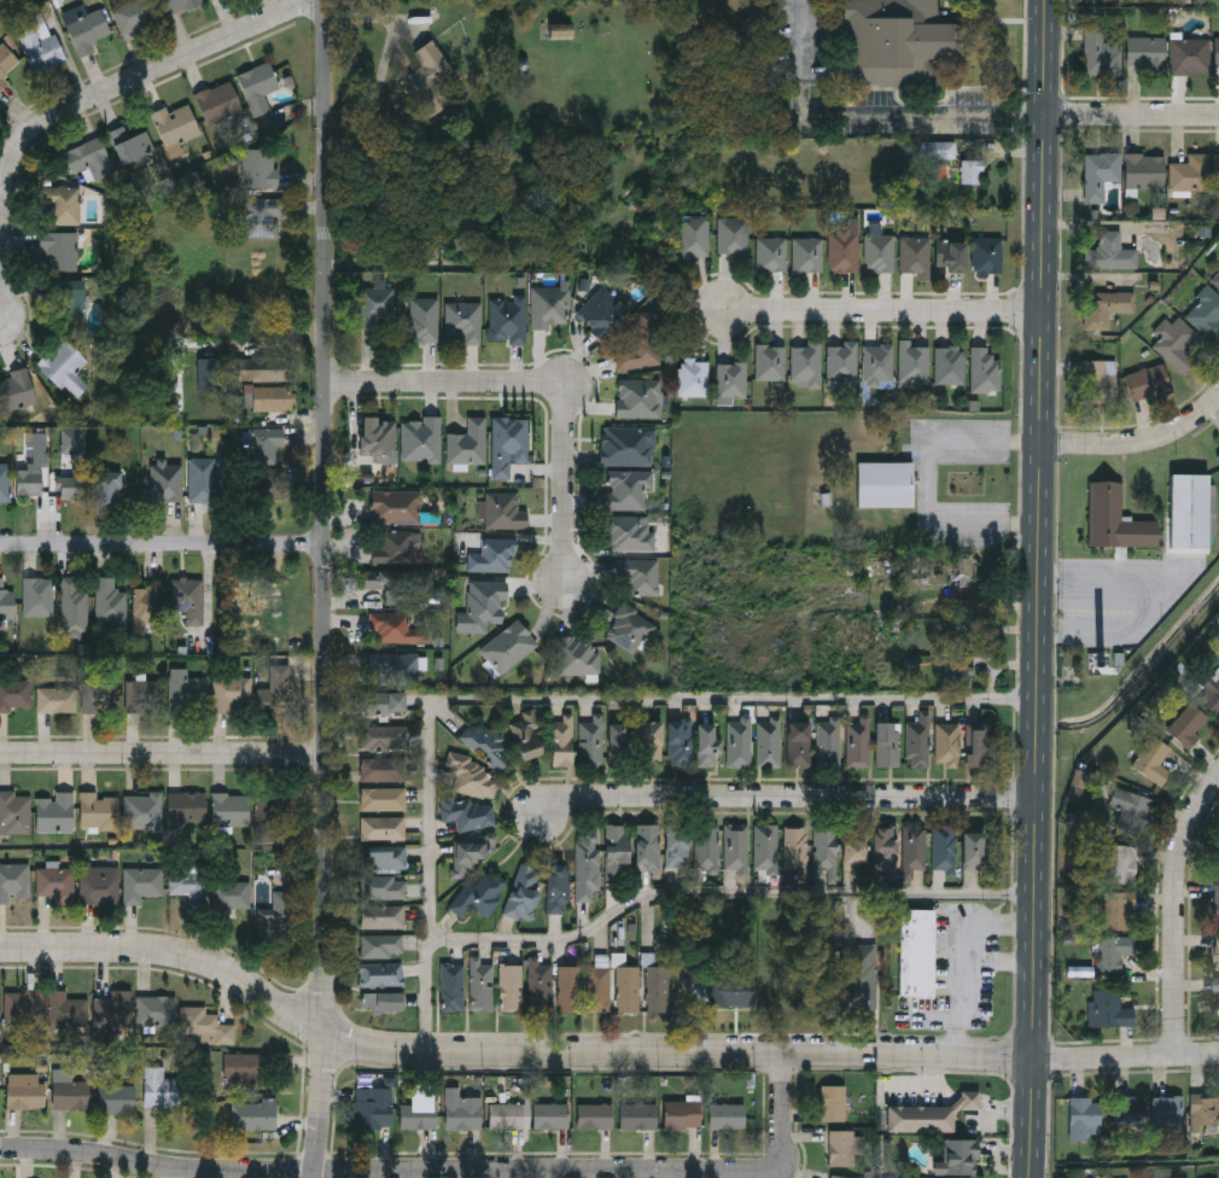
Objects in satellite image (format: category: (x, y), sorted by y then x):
building: (212, 0)
building: (177, 5)
building: (135, 14)
building: (560, 29)
building: (88, 30)
building: (899, 42)
building: (42, 46)
building: (1215, 52)
building: (1147, 53)
building: (1100, 54)
building: (1189, 56)
building: (6, 64)
building: (427, 70)
building: (258, 87)
building: (218, 103)
road: (80, 104)
road: (869, 113)
road: (1133, 115)
building: (176, 124)
building: (130, 144)
building: (91, 158)
building: (261, 168)
building: (1144, 169)
building: (1215, 169)
building: (1100, 173)
building: (1190, 173)
building: (63, 205)
building: (263, 216)
building: (694, 237)
building: (733, 237)
building: (60, 251)
building: (844, 251)
building: (1110, 251)
building: (880, 253)
building: (771, 255)
building: (807, 255)
building: (987, 255)
building: (915, 256)
building: (951, 256)
building: (1217, 276)
building: (1217, 281)
building: (68, 296)
building: (375, 304)
building: (1104, 304)
building: (550, 305)
road: (880, 308)
building: (602, 314)
building: (424, 319)
building: (465, 319)
building: (507, 319)
building: (1174, 340)
building: (636, 348)
building: (914, 361)
building: (770, 362)
building: (806, 363)
building: (879, 363)
building: (949, 363)
building: (65, 367)
building: (264, 369)
building: (985, 369)
building: (210, 374)
building: (694, 377)
building: (1098, 377)
building: (1147, 379)
building: (731, 381)
road: (544, 384)
building: (16, 390)
building: (640, 396)
building: (270, 398)
building: (378, 437)
building: (421, 438)
building: (266, 443)
building: (468, 443)
building: (509, 443)
road: (1141, 443)
building: (628, 444)
building: (202, 478)
building: (29, 480)
building: (5, 482)
building: (272, 483)
building: (888, 483)
road: (929, 484)
building: (71, 485)
building: (628, 490)
building: (106, 491)
building: (396, 506)
building: (1190, 509)
building: (504, 511)
building: (1116, 518)
building: (629, 531)
road: (163, 546)
building: (393, 547)
building: (494, 555)
building: (641, 576)
building: (392, 584)
road: (326, 589)
road: (1043, 589)
building: (247, 593)
building: (37, 596)
building: (188, 597)
building: (6, 601)
building: (110, 601)
building: (72, 603)
building: (485, 603)
road: (1157, 603)
building: (145, 607)
building: (398, 628)
building: (629, 628)
building: (508, 646)
building: (577, 655)
building: (393, 667)
building: (276, 690)
building: (1211, 692)
building: (16, 694)
building: (188, 694)
building: (232, 694)
building: (145, 695)
building: (101, 696)
road: (562, 696)
building: (57, 699)
building: (385, 701)
building: (1188, 722)
building: (383, 735)
building: (652, 740)
building: (562, 741)
building: (741, 741)
building: (769, 741)
building: (918, 741)
building: (490, 742)
building: (590, 742)
building: (680, 742)
building: (829, 742)
building: (858, 742)
building: (888, 742)
building: (619, 743)
building: (708, 743)
building: (799, 743)
building: (947, 743)
building: (976, 745)
road: (163, 752)
building: (1153, 758)
building: (384, 768)
building: (471, 775)
building: (383, 798)
road: (791, 799)
building: (186, 806)
building: (1130, 806)
building: (99, 809)
building: (231, 809)
building: (144, 810)
building: (16, 811)
building: (467, 811)
building: (54, 812)
building: (268, 813)
building: (386, 827)
building: (647, 845)
building: (677, 845)
building: (885, 845)
building: (944, 845)
building: (706, 846)
building: (736, 846)
building: (766, 846)
building: (794, 846)
building: (915, 846)
building: (855, 847)
building: (973, 847)
building: (617, 851)
building: (468, 852)
building: (826, 852)
building: (386, 856)
building: (1122, 861)
building: (587, 864)
building: (14, 881)
building: (142, 882)
building: (58, 884)
building: (188, 884)
building: (558, 886)
building: (390, 887)
building: (100, 888)
building: (524, 890)
building: (232, 893)
building: (479, 893)
road: (730, 894)
building: (1215, 900)
building: (284, 908)
building: (1116, 908)
road: (1179, 914)
building: (383, 915)
building: (381, 945)
building: (1217, 949)
building: (1112, 950)
building: (917, 952)
road: (1009, 964)
road: (980, 969)
building: (862, 970)
building: (381, 974)
building: (482, 984)
building: (453, 985)
building: (511, 986)
building: (541, 986)
building: (568, 986)
building: (599, 987)
building: (626, 987)
building: (657, 987)
building: (735, 991)
building: (1217, 992)
building: (383, 999)
building: (25, 1005)
building: (1109, 1007)
building: (68, 1008)
building: (113, 1008)
building: (156, 1009)
building: (0, 1011)
building: (206, 1026)
road: (596, 1052)
building: (243, 1067)
building: (161, 1087)
building: (25, 1090)
building: (71, 1094)
building: (0, 1096)
building: (118, 1098)
building: (833, 1102)
building: (373, 1107)
building: (1168, 1107)
building: (1130, 1109)
building: (1205, 1110)
building: (466, 1112)
building: (683, 1113)
building: (255, 1114)
building: (928, 1114)
building: (1080, 1114)
building: (419, 1115)
building: (507, 1115)
building: (552, 1115)
building: (595, 1115)
building: (637, 1115)
building: (727, 1115)
building: (844, 1147)
building: (958, 1155)
road: (444, 1170)
building: (839, 1177)
building: (1132, 1177)

